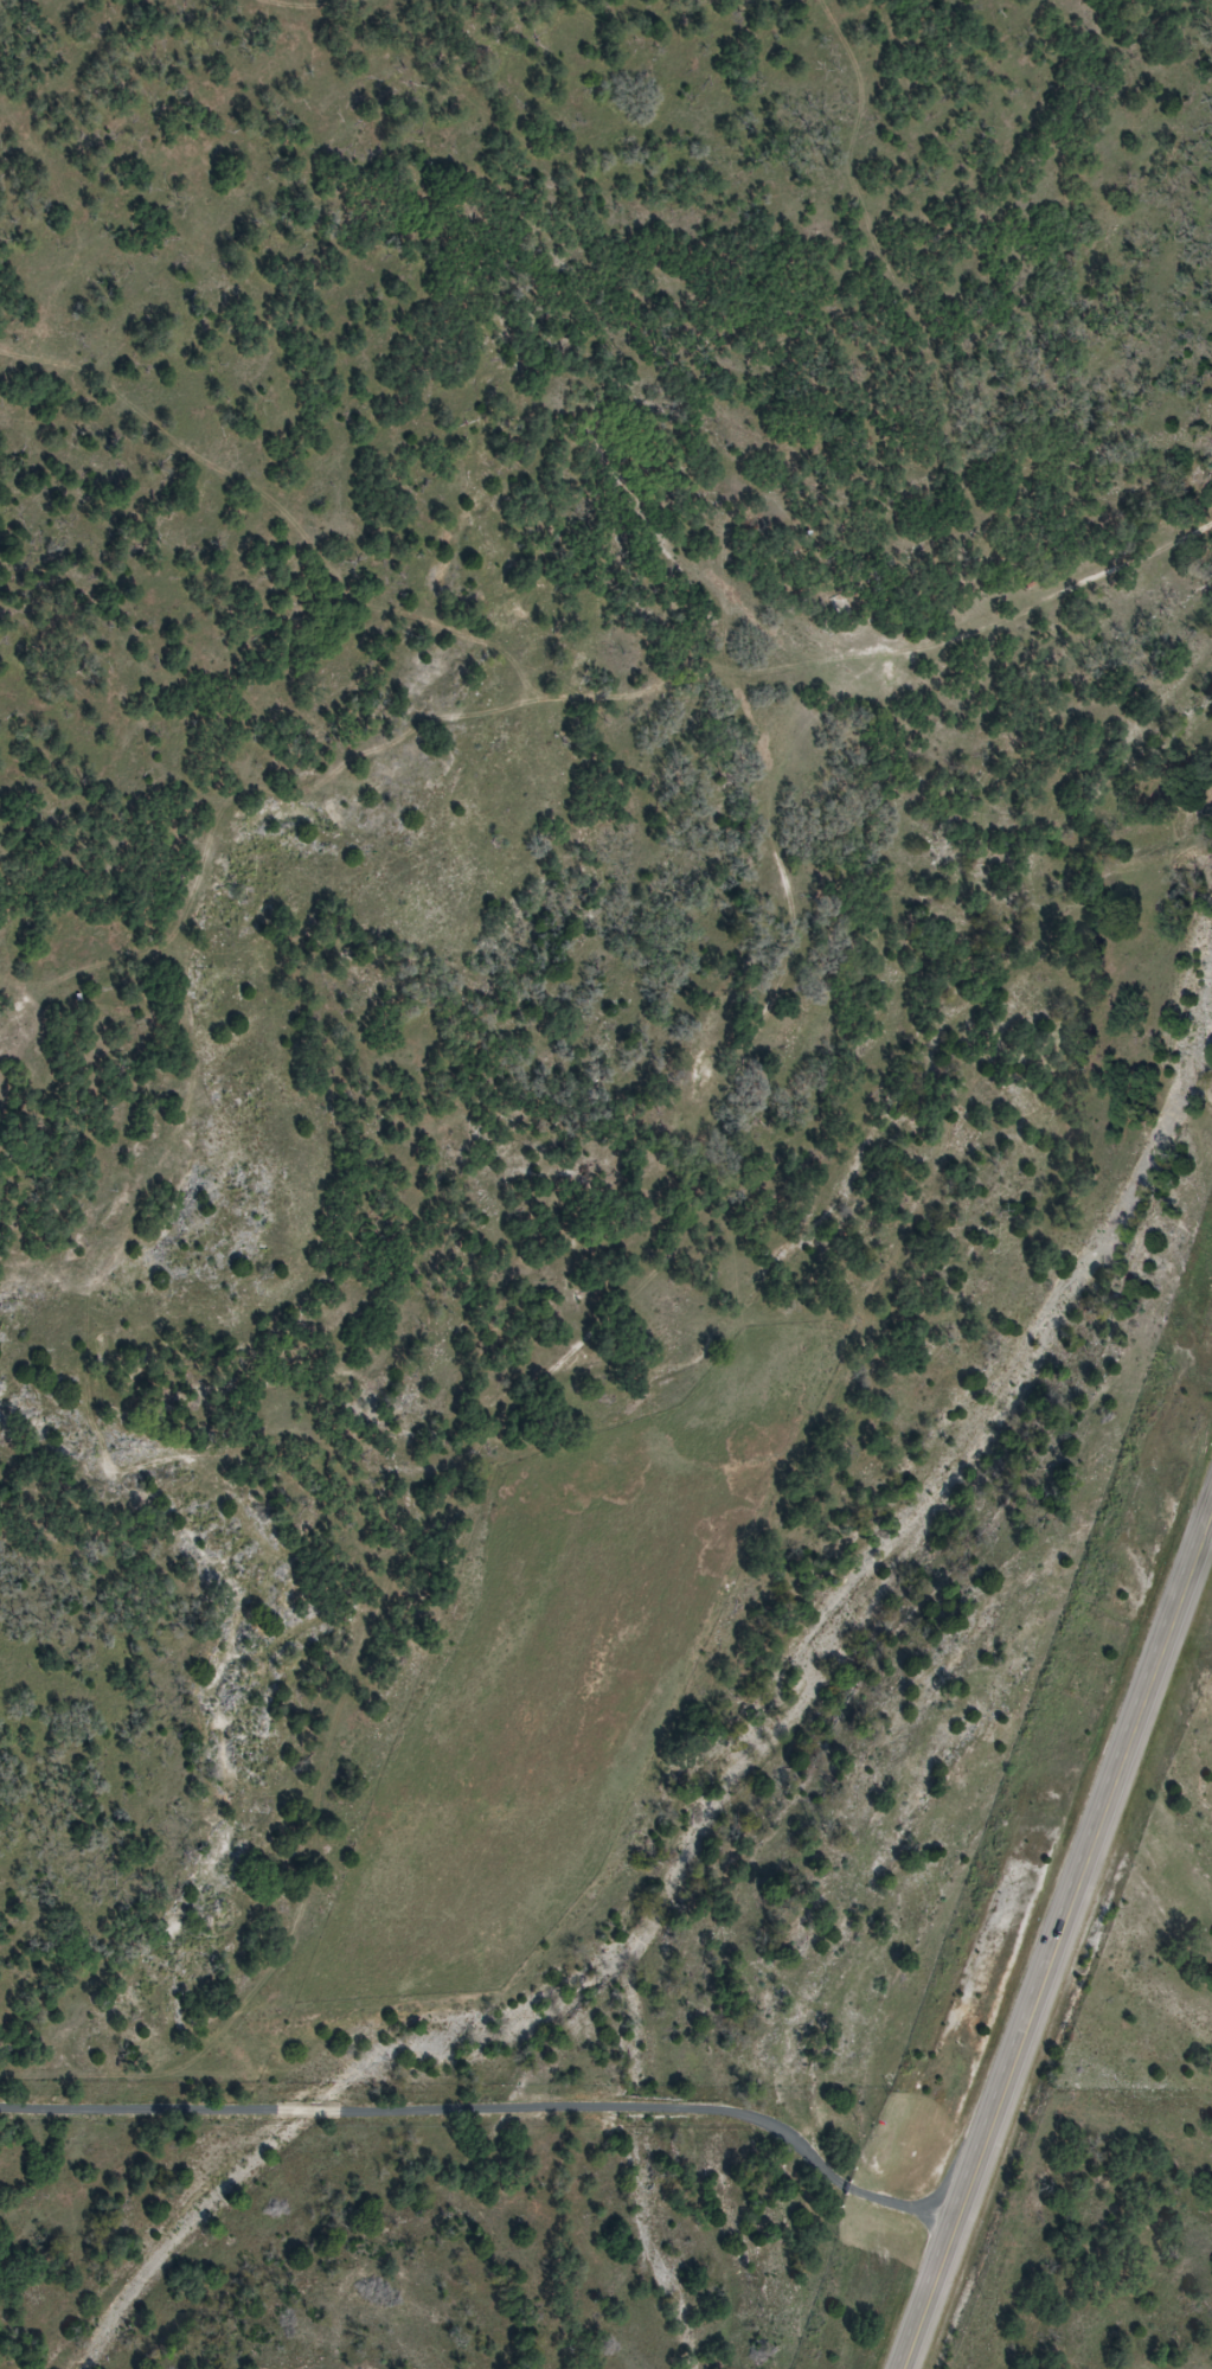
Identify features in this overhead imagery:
road: (1056, 1939)

